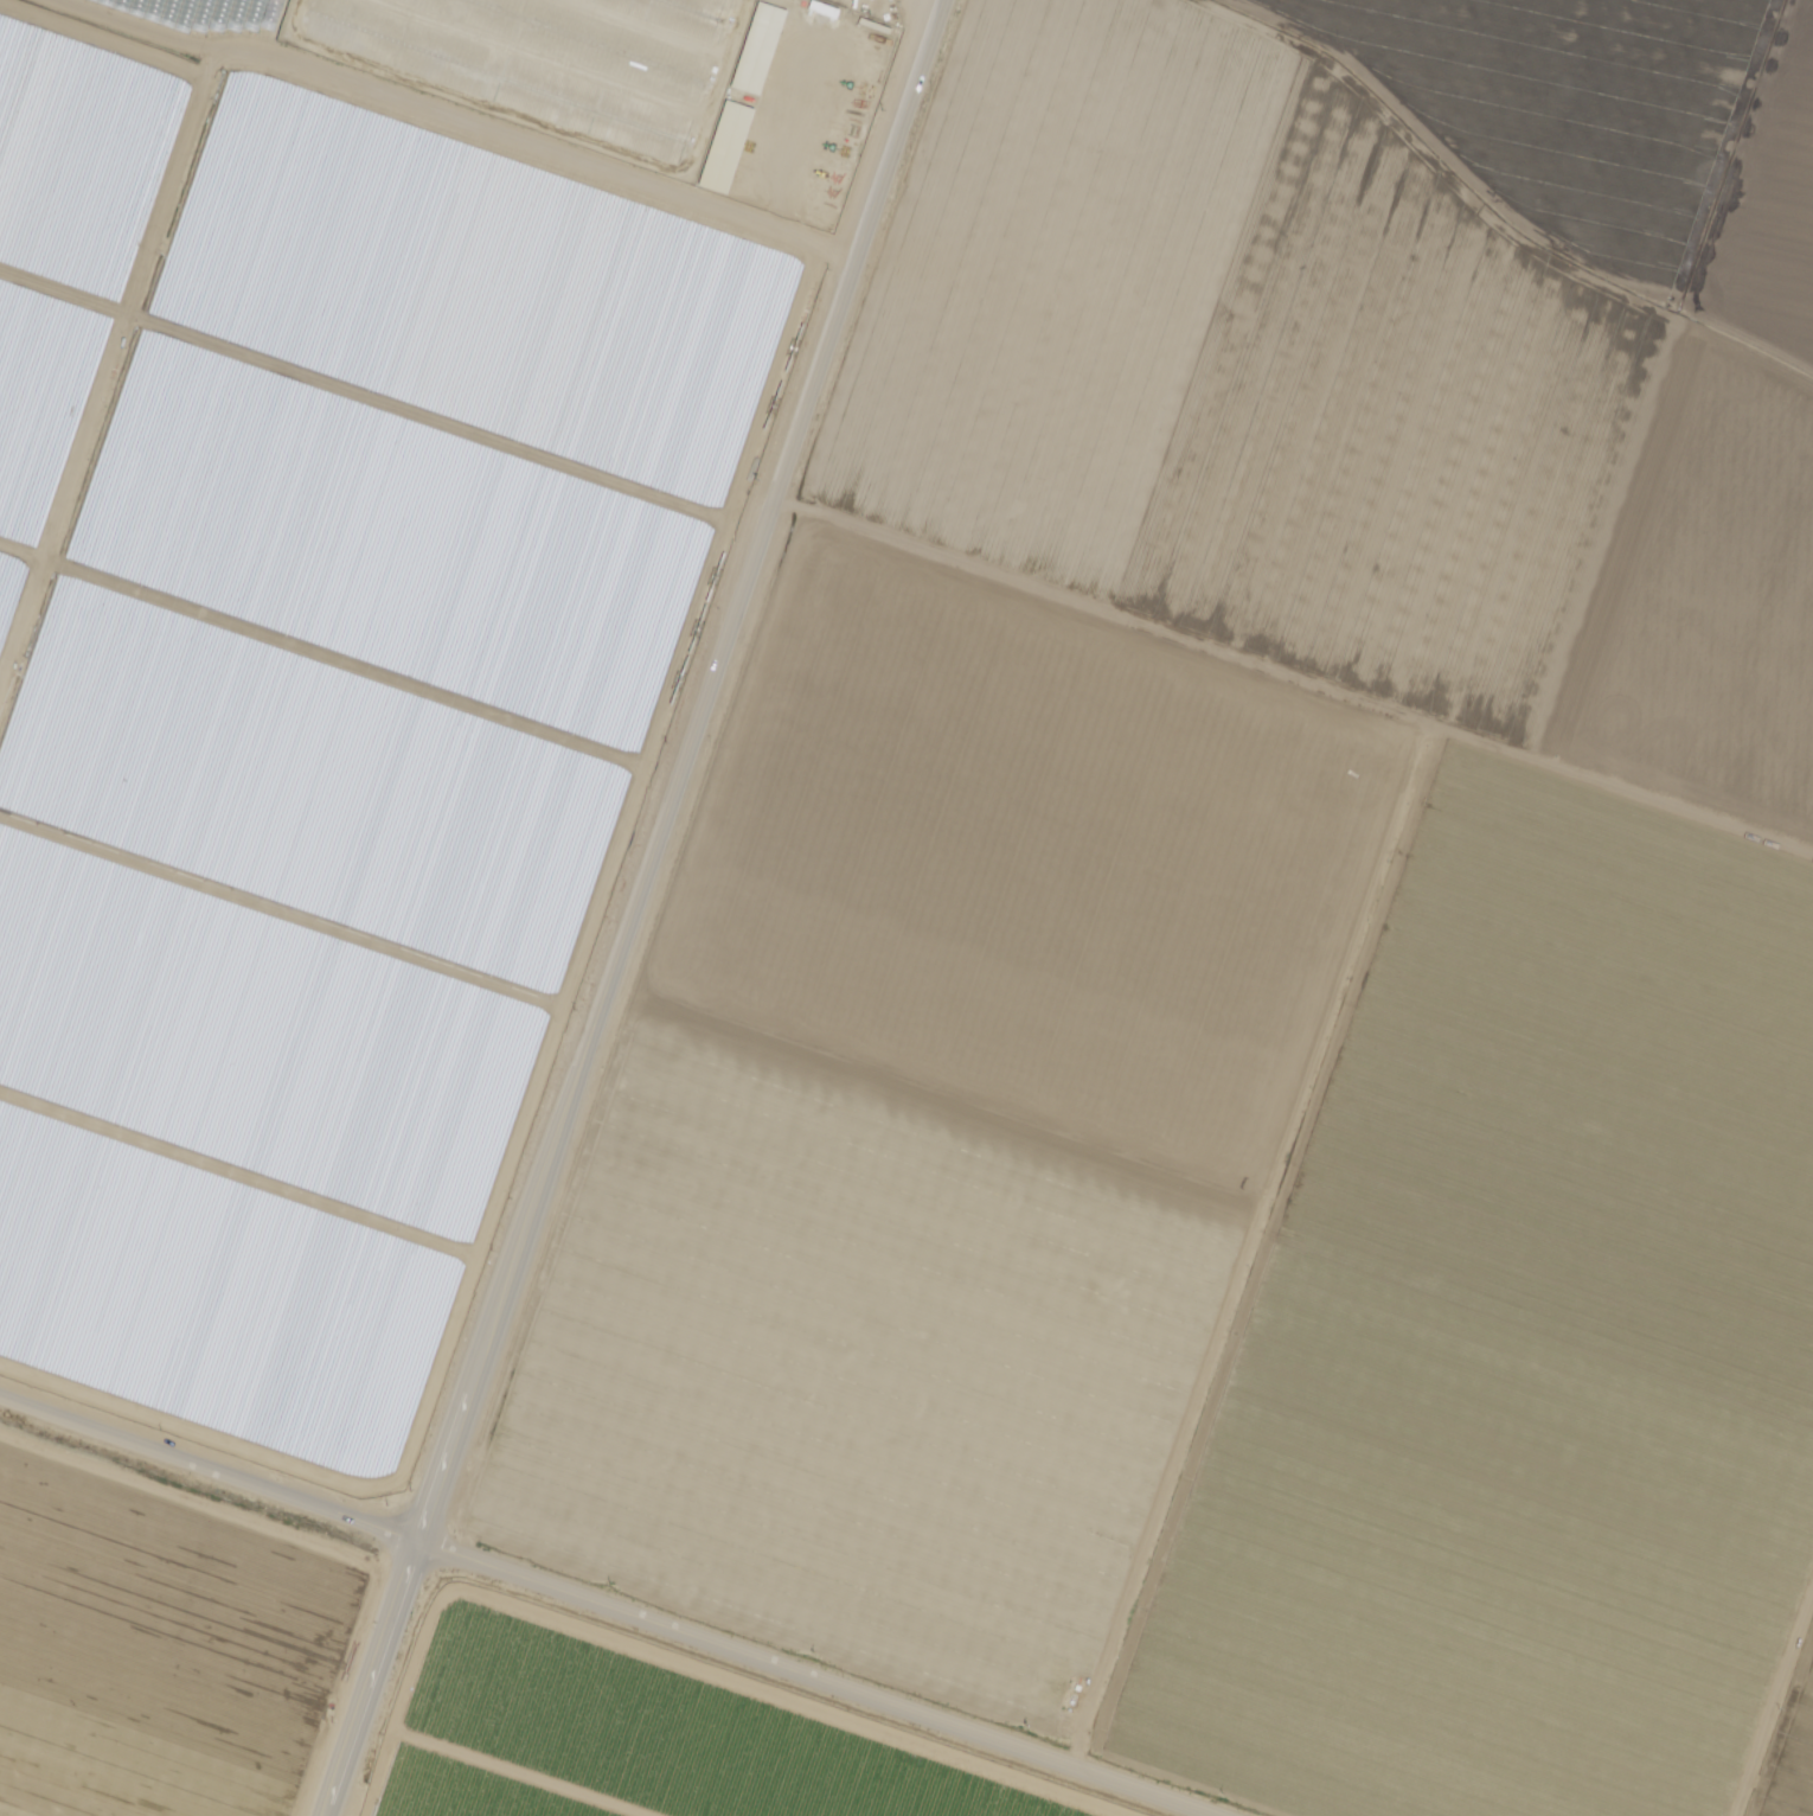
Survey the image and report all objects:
crop: (200, 18)
building: (760, 47)
building: (495, 65)
crop: (1563, 109)
building: (729, 147)
crop: (73, 148)
crop: (1768, 219)
crop: (494, 270)
crop: (52, 338)
crop: (1326, 411)
crop: (423, 477)
crop: (21, 535)
crop: (353, 684)
crop: (284, 888)
road: (627, 907)
crop: (244, 1101)
crop: (937, 1131)
crop: (210, 1319)
crop: (1516, 1349)
road: (206, 1470)
crop: (161, 1649)
road: (802, 1680)
crop: (648, 1735)
crop: (1789, 1748)
crop: (41, 1801)

